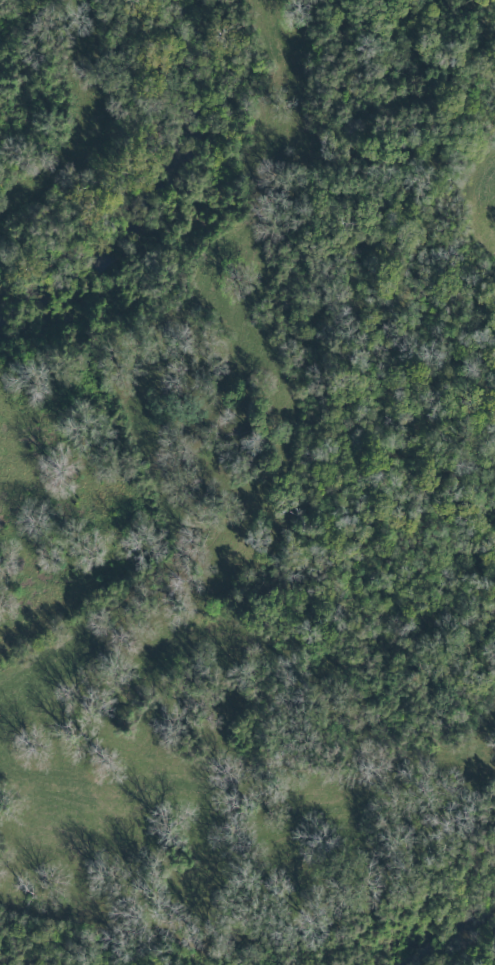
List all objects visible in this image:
road: (115, 612)

